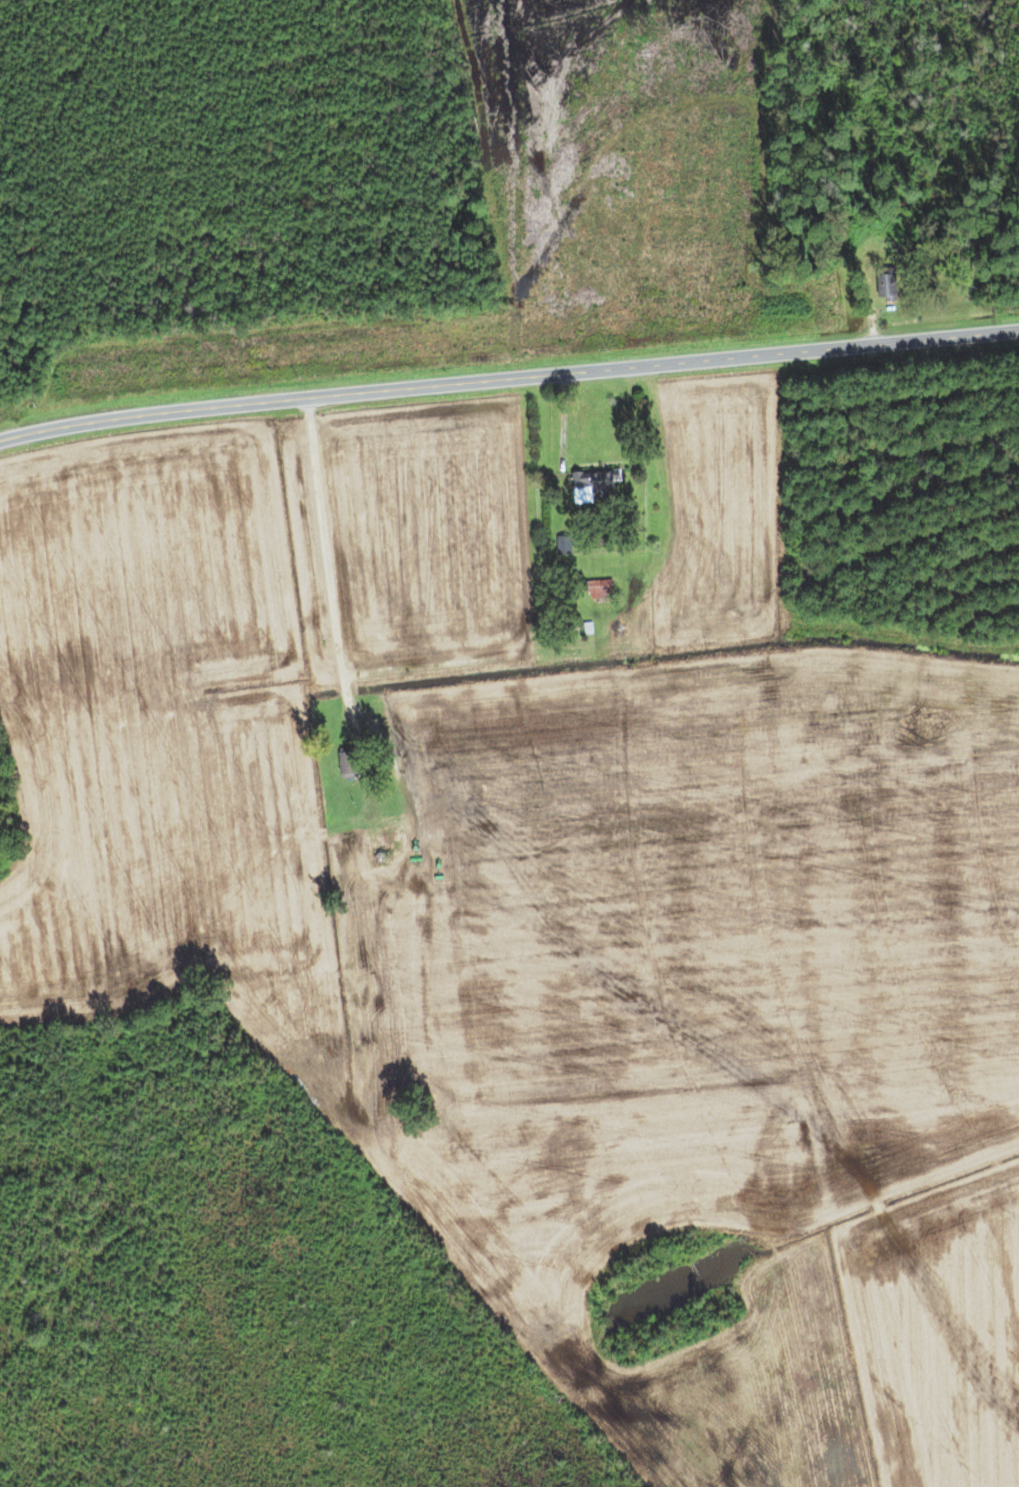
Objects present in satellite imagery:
building: (882, 286)
road: (508, 378)
building: (591, 483)
building: (596, 590)
building: (344, 762)
building: (384, 851)
building: (357, 989)

